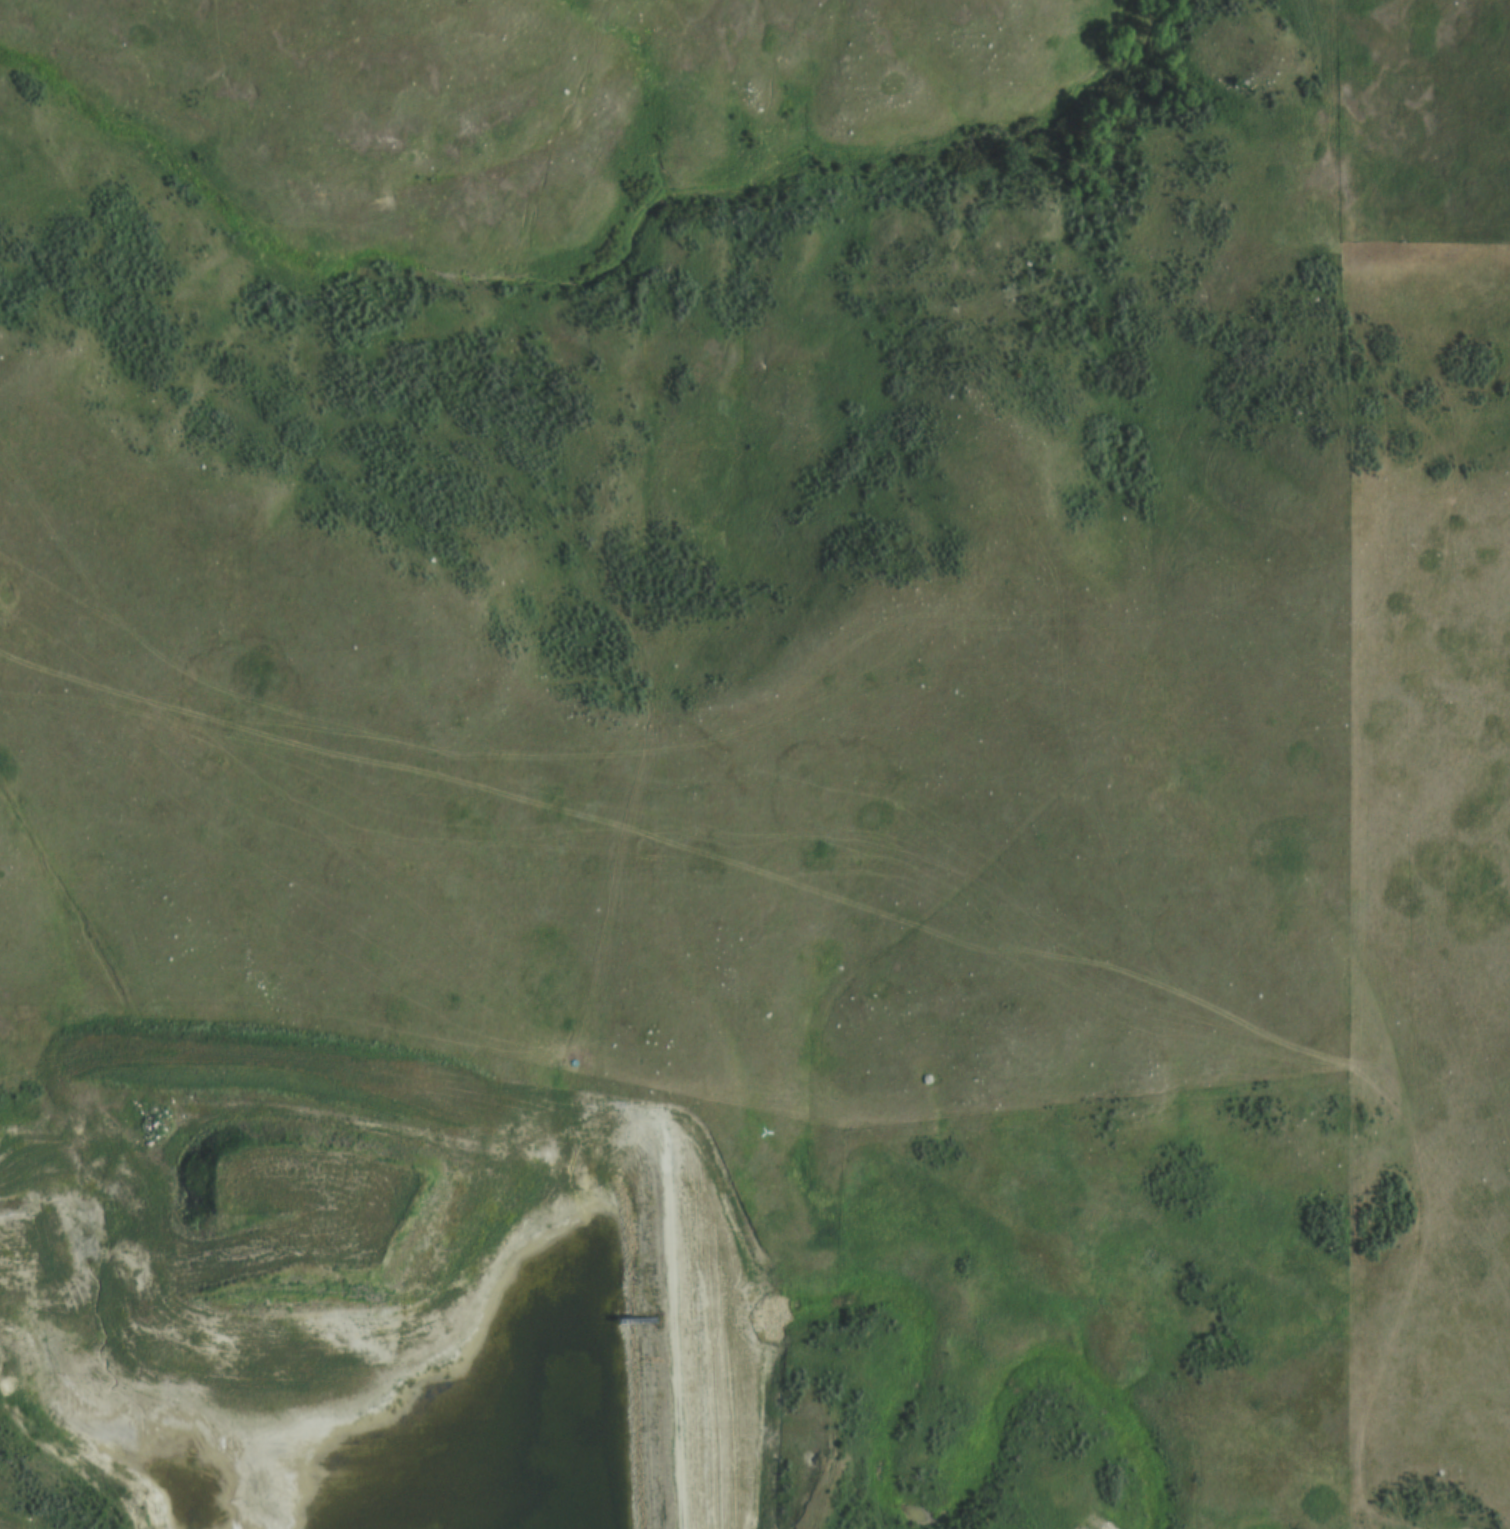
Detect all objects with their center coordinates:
road: (1378, 1519)

